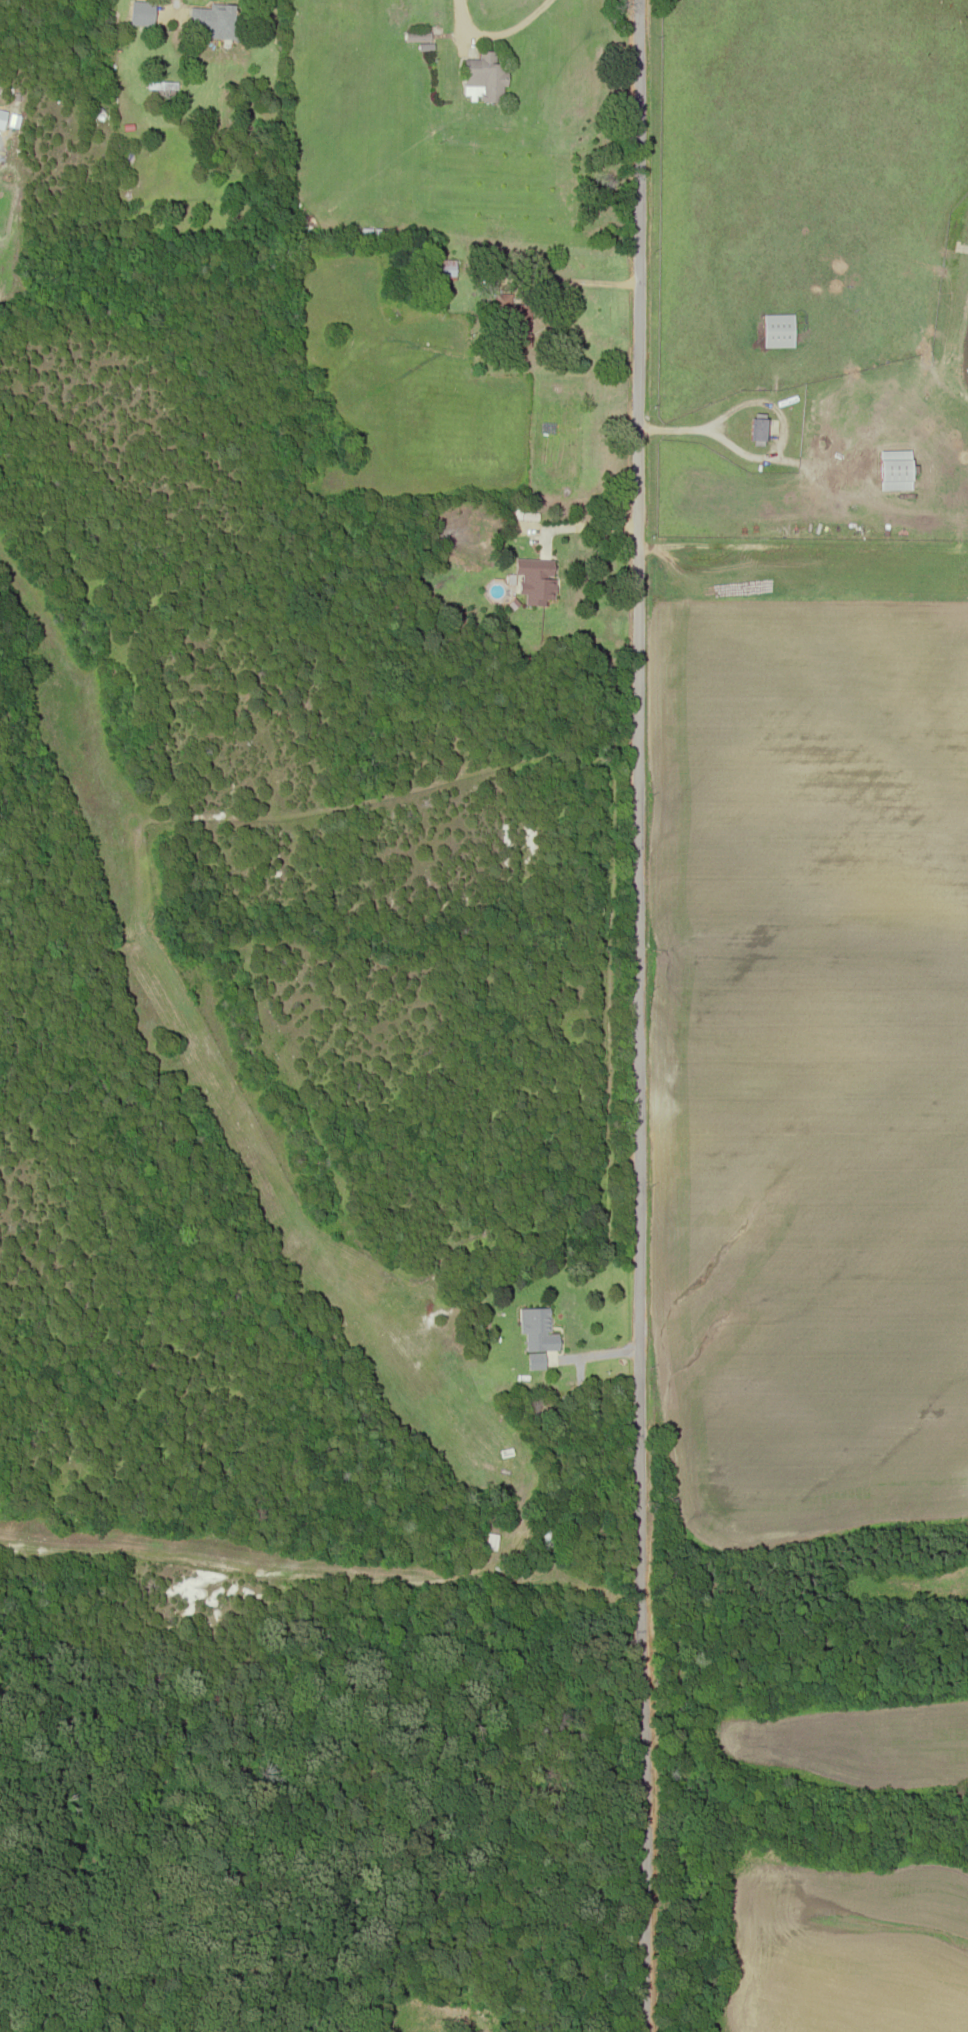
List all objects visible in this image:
building: (209, 17)
building: (484, 75)
building: (444, 269)
building: (512, 320)
building: (776, 330)
building: (757, 429)
building: (893, 470)
building: (535, 579)
road: (644, 1016)
building: (537, 1329)
building: (547, 1538)
building: (492, 1541)

